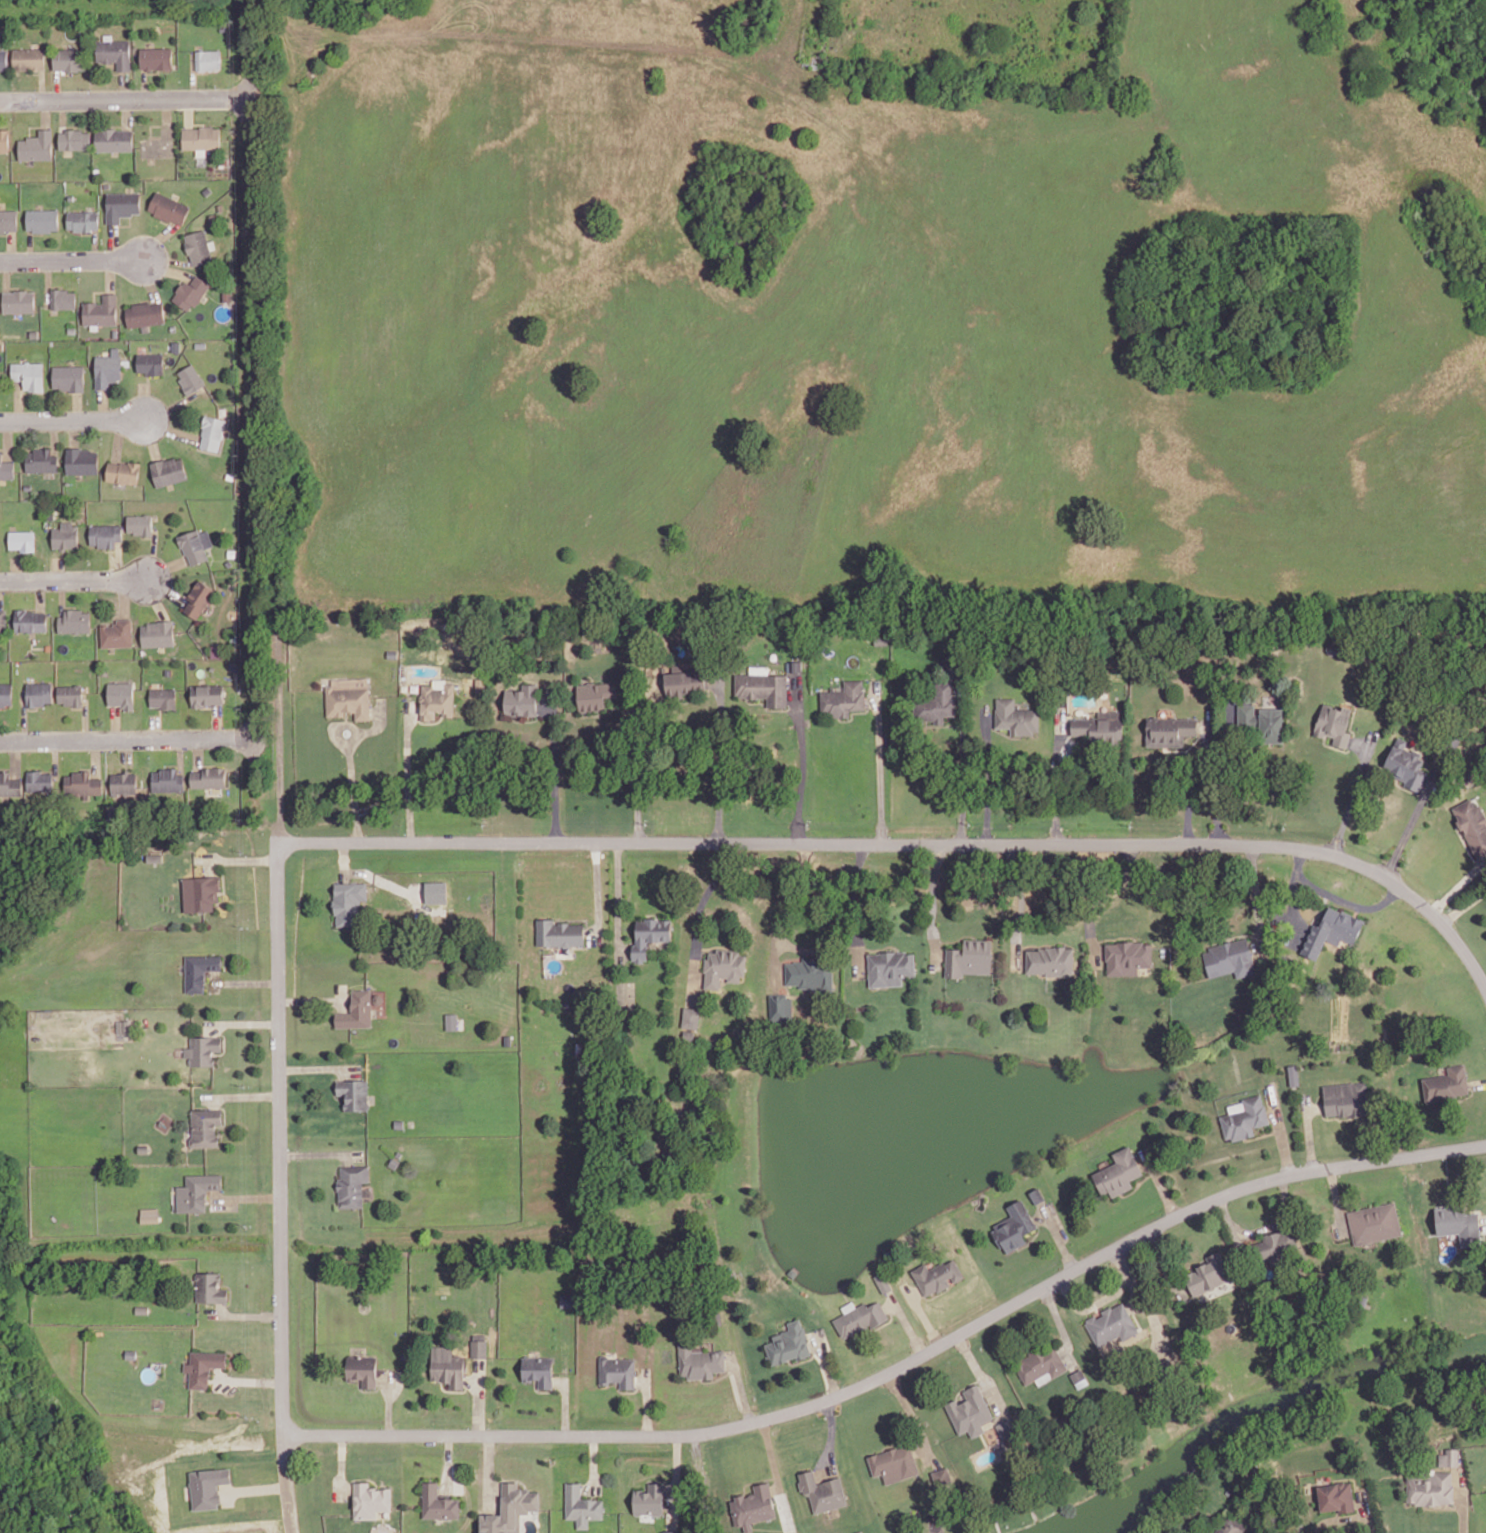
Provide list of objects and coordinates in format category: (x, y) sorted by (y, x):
road: (282, 7)
building: (222, 28)
building: (115, 51)
building: (29, 57)
building: (70, 57)
building: (155, 57)
building: (3, 58)
building: (207, 59)
road: (151, 71)
road: (110, 72)
road: (64, 73)
road: (193, 75)
road: (144, 83)
road: (57, 84)
road: (124, 84)
road: (42, 85)
road: (114, 99)
road: (126, 112)
road: (189, 112)
road: (44, 113)
road: (62, 113)
road: (119, 124)
road: (31, 125)
building: (200, 136)
building: (4, 138)
building: (74, 138)
building: (114, 138)
building: (159, 143)
building: (37, 145)
building: (207, 190)
building: (71, 196)
building: (121, 204)
building: (168, 207)
building: (42, 217)
building: (8, 218)
building: (82, 219)
road: (126, 224)
road: (86, 232)
road: (39, 233)
road: (157, 239)
road: (113, 240)
street lamp: (165, 240)
road: (30, 244)
road: (94, 244)
road: (11, 245)
building: (196, 246)
road: (165, 258)
road: (71, 259)
road: (166, 267)
road: (6, 274)
road: (109, 274)
road: (148, 279)
road: (47, 280)
road: (97, 290)
building: (189, 291)
building: (226, 293)
building: (63, 297)
building: (19, 299)
building: (101, 309)
building: (145, 312)
building: (173, 326)
building: (72, 328)
building: (114, 331)
building: (34, 332)
building: (199, 343)
building: (176, 345)
building: (1, 346)
building: (152, 361)
building: (108, 367)
building: (29, 373)
building: (69, 376)
building: (189, 377)
road: (19, 400)
road: (143, 400)
road: (103, 404)
road: (77, 405)
road: (169, 406)
street lamp: (171, 411)
road: (71, 420)
road: (170, 428)
building: (211, 430)
road: (73, 432)
road: (54, 436)
road: (150, 437)
road: (118, 438)
road: (7, 439)
road: (3, 447)
building: (42, 459)
building: (82, 459)
building: (7, 466)
building: (169, 469)
building: (125, 471)
building: (28, 486)
building: (50, 512)
building: (32, 515)
building: (141, 522)
building: (106, 533)
building: (65, 534)
road: (146, 536)
building: (23, 538)
building: (196, 543)
building: (232, 552)
road: (151, 554)
road: (118, 560)
building: (228, 562)
road: (164, 566)
road: (16, 568)
road: (57, 568)
road: (72, 579)
road: (164, 588)
road: (40, 594)
road: (62, 595)
road: (123, 597)
road: (155, 597)
building: (200, 597)
building: (30, 619)
building: (75, 620)
building: (3, 621)
building: (118, 632)
building: (159, 632)
building: (48, 646)
building: (1331, 647)
building: (192, 649)
building: (218, 651)
building: (391, 652)
building: (796, 665)
building: (950, 666)
building: (105, 670)
building: (683, 680)
building: (762, 687)
building: (39, 692)
building: (5, 693)
building: (71, 693)
building: (122, 694)
building: (208, 694)
building: (596, 694)
building: (164, 696)
building: (347, 696)
building: (843, 698)
building: (522, 699)
road: (871, 699)
building: (436, 700)
building: (940, 701)
road: (76, 707)
road: (33, 708)
road: (772, 708)
road: (853, 711)
building: (1016, 716)
road: (86, 719)
road: (217, 720)
road: (25, 721)
road: (115, 721)
building: (1260, 722)
building: (1334, 723)
road: (338, 725)
building: (1099, 726)
road: (155, 727)
building: (1168, 729)
road: (188, 737)
building: (1452, 737)
road: (58, 739)
road: (1359, 744)
road: (126, 748)
road: (1185, 749)
street lamp: (185, 750)
road: (198, 752)
road: (180, 754)
road: (96, 756)
road: (15, 757)
road: (56, 757)
road: (803, 758)
road: (722, 759)
road: (350, 760)
road: (636, 760)
road: (880, 761)
road: (965, 762)
building: (1406, 763)
road: (555, 766)
road: (408, 770)
road: (1219, 771)
road: (989, 775)
building: (210, 776)
road: (1056, 776)
building: (41, 779)
building: (168, 779)
building: (125, 781)
road: (1193, 781)
building: (84, 782)
building: (10, 783)
road: (1409, 788)
road: (1353, 792)
building: (111, 811)
road: (1411, 823)
building: (1472, 825)
road: (860, 842)
road: (1463, 846)
building: (156, 857)
road: (242, 859)
road: (344, 859)
road: (1458, 885)
road: (597, 889)
building: (201, 891)
building: (436, 892)
road: (1291, 894)
road: (1257, 898)
road: (617, 899)
road: (1346, 900)
building: (350, 903)
road: (1015, 903)
road: (1092, 904)
road: (932, 905)
road: (1463, 905)
road: (855, 909)
road: (780, 913)
road: (697, 918)
building: (1331, 930)
building: (558, 932)
building: (649, 934)
road: (1459, 943)
road: (796, 947)
building: (1125, 955)
building: (1229, 956)
building: (969, 957)
building: (1048, 960)
building: (722, 966)
building: (889, 967)
building: (200, 970)
building: (810, 973)
road: (245, 981)
road: (313, 999)
building: (562, 1002)
building: (780, 1006)
building: (356, 1009)
building: (690, 1016)
building: (451, 1020)
road: (243, 1022)
building: (124, 1025)
building: (687, 1034)
building: (204, 1048)
road: (318, 1067)
building: (1293, 1073)
road: (1477, 1082)
building: (1445, 1083)
road: (279, 1085)
building: (353, 1092)
road: (241, 1094)
building: (1345, 1097)
building: (1246, 1117)
building: (398, 1123)
building: (206, 1126)
road: (1281, 1132)
road: (1309, 1132)
road: (1262, 1134)
building: (144, 1148)
road: (320, 1153)
building: (399, 1153)
building: (394, 1162)
street lamp: (1422, 1164)
building: (1119, 1171)
road: (1160, 1183)
building: (351, 1184)
road: (1138, 1184)
building: (197, 1190)
building: (1037, 1194)
road: (246, 1196)
road: (1336, 1199)
building: (150, 1216)
building: (1456, 1219)
road: (1484, 1221)
building: (1373, 1222)
building: (1014, 1226)
road: (1263, 1227)
road: (1059, 1236)
building: (1275, 1242)
road: (1162, 1260)
building: (1208, 1273)
building: (936, 1275)
road: (1132, 1279)
building: (883, 1281)
building: (211, 1286)
street lamp: (1057, 1289)
road: (915, 1292)
road: (934, 1295)
road: (1094, 1303)
road: (890, 1305)
building: (142, 1308)
road: (1096, 1309)
road: (245, 1313)
road: (922, 1314)
building: (860, 1317)
road: (888, 1320)
road: (1155, 1320)
road: (906, 1322)
building: (1110, 1322)
road: (1060, 1324)
building: (789, 1342)
road: (815, 1344)
building: (479, 1347)
building: (131, 1353)
road: (804, 1359)
building: (700, 1361)
road: (826, 1362)
building: (1040, 1362)
building: (447, 1364)
road: (903, 1364)
building: (205, 1365)
building: (1167, 1367)
building: (362, 1368)
building: (538, 1369)
building: (616, 1370)
road: (981, 1374)
road: (718, 1377)
building: (1080, 1377)
road: (472, 1378)
road: (249, 1379)
road: (641, 1380)
road: (740, 1387)
road: (458, 1389)
road: (544, 1390)
road: (628, 1390)
road: (480, 1396)
road: (647, 1402)
road: (389, 1403)
road: (565, 1406)
street lamp: (760, 1409)
building: (970, 1410)
road: (912, 1414)
street lamp: (497, 1417)
building: (1005, 1427)
road: (830, 1437)
building: (1452, 1456)
road: (341, 1463)
road: (448, 1463)
road: (593, 1463)
building: (893, 1463)
road: (488, 1472)
road: (776, 1474)
building: (941, 1475)
road: (507, 1478)
road: (676, 1480)
road: (756, 1480)
road: (702, 1483)
building: (1429, 1486)
building: (208, 1487)
building: (822, 1491)
building: (1228, 1491)
building: (1336, 1496)
building: (650, 1498)
building: (369, 1499)
road: (1462, 1501)
building: (438, 1502)
building: (581, 1504)
building: (753, 1505)
road: (1442, 1507)
building: (508, 1509)
road: (1365, 1511)
road: (1337, 1517)
building: (1231, 1524)
building: (671, 1531)
building: (859, 1531)
building: (1207, 1531)
building: (793, 1532)

